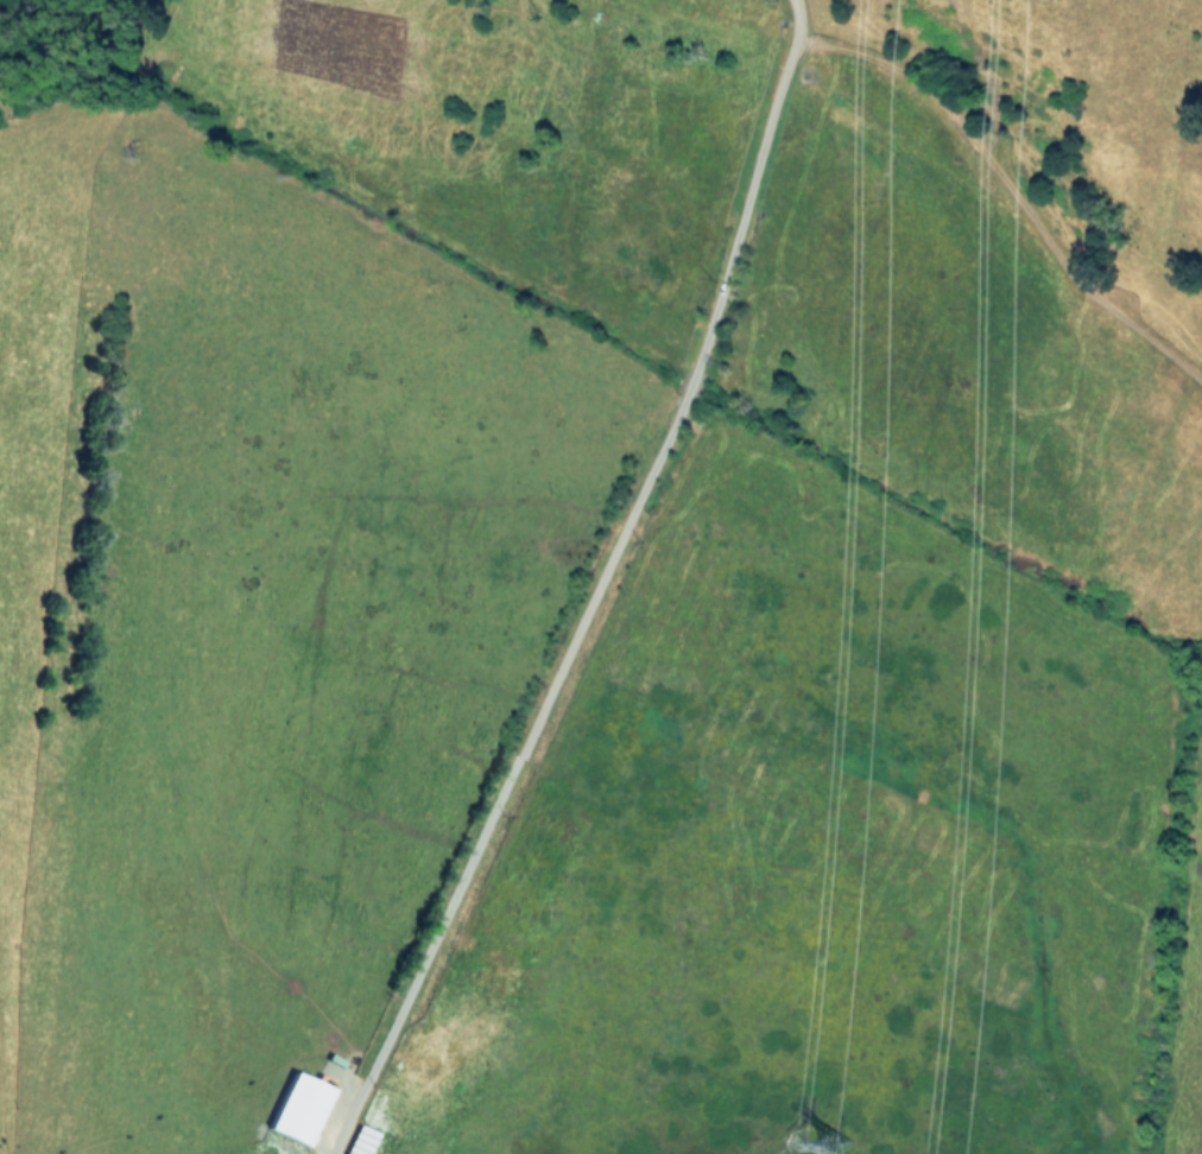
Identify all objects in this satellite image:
crop: (605, 581)
road: (595, 589)
building: (303, 1107)
power tower: (850, 1136)

